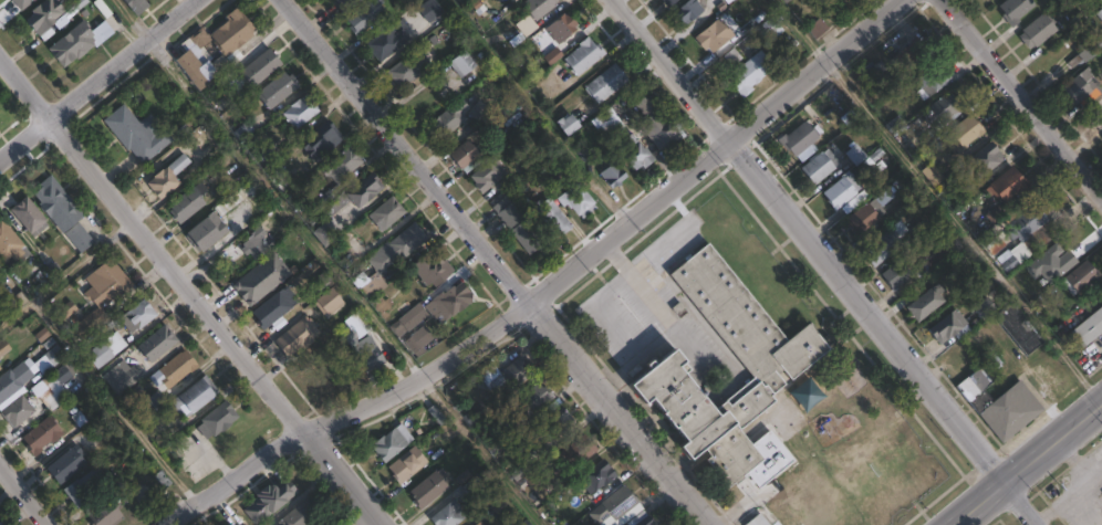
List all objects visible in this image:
building: (789, 0)
building: (840, 0)
building: (821, 1)
building: (669, 2)
building: (749, 2)
building: (343, 4)
building: (136, 6)
building: (539, 7)
building: (429, 10)
building: (1015, 10)
building: (688, 12)
building: (1100, 13)
building: (364, 15)
building: (45, 18)
road: (129, 19)
building: (771, 27)
building: (817, 27)
building: (1038, 31)
building: (230, 32)
building: (545, 32)
building: (715, 35)
building: (199, 38)
building: (77, 41)
building: (387, 41)
building: (1085, 51)
building: (583, 55)
building: (909, 55)
building: (461, 63)
building: (410, 65)
building: (260, 67)
building: (195, 70)
building: (749, 73)
building: (875, 73)
road: (95, 77)
building: (934, 78)
building: (606, 83)
building: (1083, 87)
building: (277, 90)
road: (1022, 97)
building: (947, 107)
building: (0, 108)
building: (300, 111)
building: (479, 111)
road: (536, 114)
building: (604, 118)
building: (1095, 118)
building: (449, 119)
building: (566, 125)
building: (656, 125)
building: (967, 130)
building: (243, 132)
building: (135, 135)
building: (798, 138)
building: (1101, 138)
building: (318, 139)
building: (634, 153)
building: (855, 155)
building: (465, 156)
building: (264, 158)
building: (986, 159)
building: (342, 165)
building: (523, 166)
building: (820, 166)
building: (612, 171)
building: (487, 175)
building: (934, 175)
building: (165, 178)
building: (1010, 186)
building: (335, 189)
building: (842, 190)
building: (357, 193)
building: (236, 197)
building: (578, 200)
road: (935, 202)
building: (55, 203)
building: (184, 206)
building: (387, 213)
building: (28, 217)
building: (551, 217)
building: (865, 218)
building: (518, 223)
building: (921, 230)
building: (1029, 230)
building: (206, 232)
building: (323, 234)
building: (79, 238)
building: (995, 242)
building: (8, 244)
building: (254, 244)
building: (885, 244)
building: (399, 245)
building: (1007, 261)
road: (826, 262)
road: (501, 263)
building: (432, 271)
building: (896, 275)
building: (1080, 277)
building: (261, 279)
road: (340, 282)
road: (553, 287)
road: (187, 291)
building: (101, 295)
building: (376, 297)
building: (328, 301)
building: (449, 301)
building: (926, 303)
building: (273, 308)
building: (985, 308)
building: (64, 312)
building: (137, 316)
building: (409, 317)
building: (950, 327)
building: (1019, 329)
building: (1088, 329)
building: (297, 336)
building: (419, 340)
building: (361, 343)
building: (157, 344)
building: (3, 348)
building: (105, 350)
building: (49, 359)
building: (771, 365)
building: (176, 369)
building: (122, 377)
building: (508, 377)
building: (14, 379)
building: (194, 397)
building: (530, 403)
building: (999, 403)
road: (1100, 407)
building: (17, 411)
building: (91, 411)
building: (141, 413)
building: (476, 416)
building: (218, 419)
building: (553, 426)
building: (102, 430)
building: (40, 435)
building: (391, 443)
building: (499, 445)
building: (573, 449)
road: (1090, 460)
road: (1027, 463)
building: (65, 464)
building: (517, 464)
building: (407, 465)
building: (596, 475)
road: (1077, 484)
building: (85, 486)
building: (475, 486)
building: (429, 487)
road: (24, 493)
building: (269, 502)
building: (616, 506)
building: (298, 514)
building: (448, 514)
building: (105, 515)
road: (202, 516)
building: (641, 518)
building: (756, 519)
building: (321, 523)
building: (479, 523)

